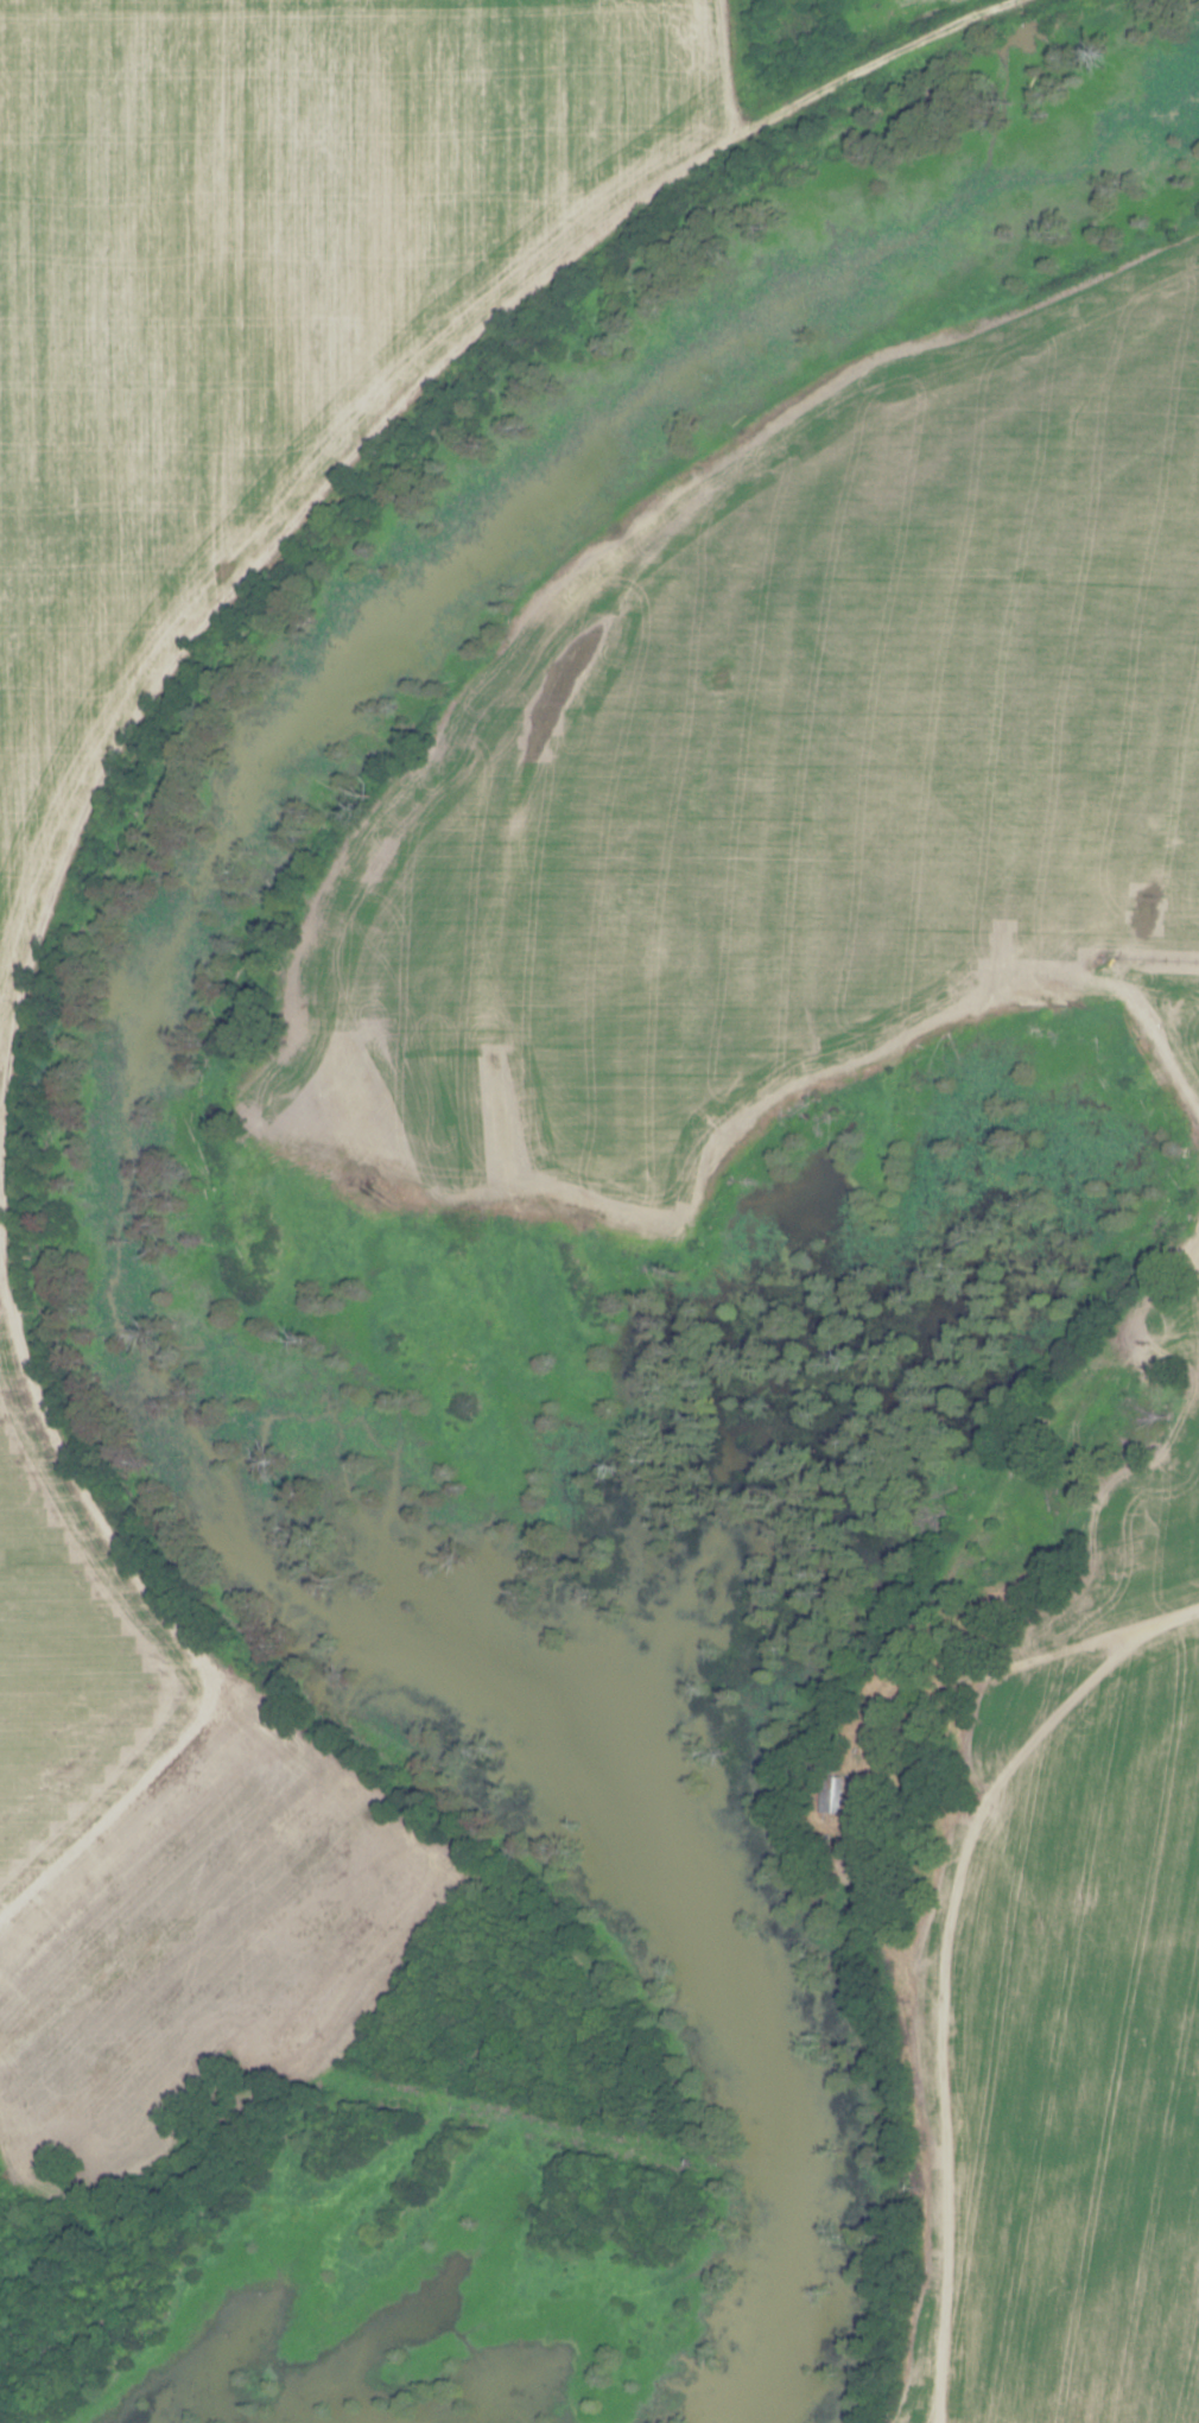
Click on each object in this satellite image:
road: (183, 1620)
road: (941, 1964)

